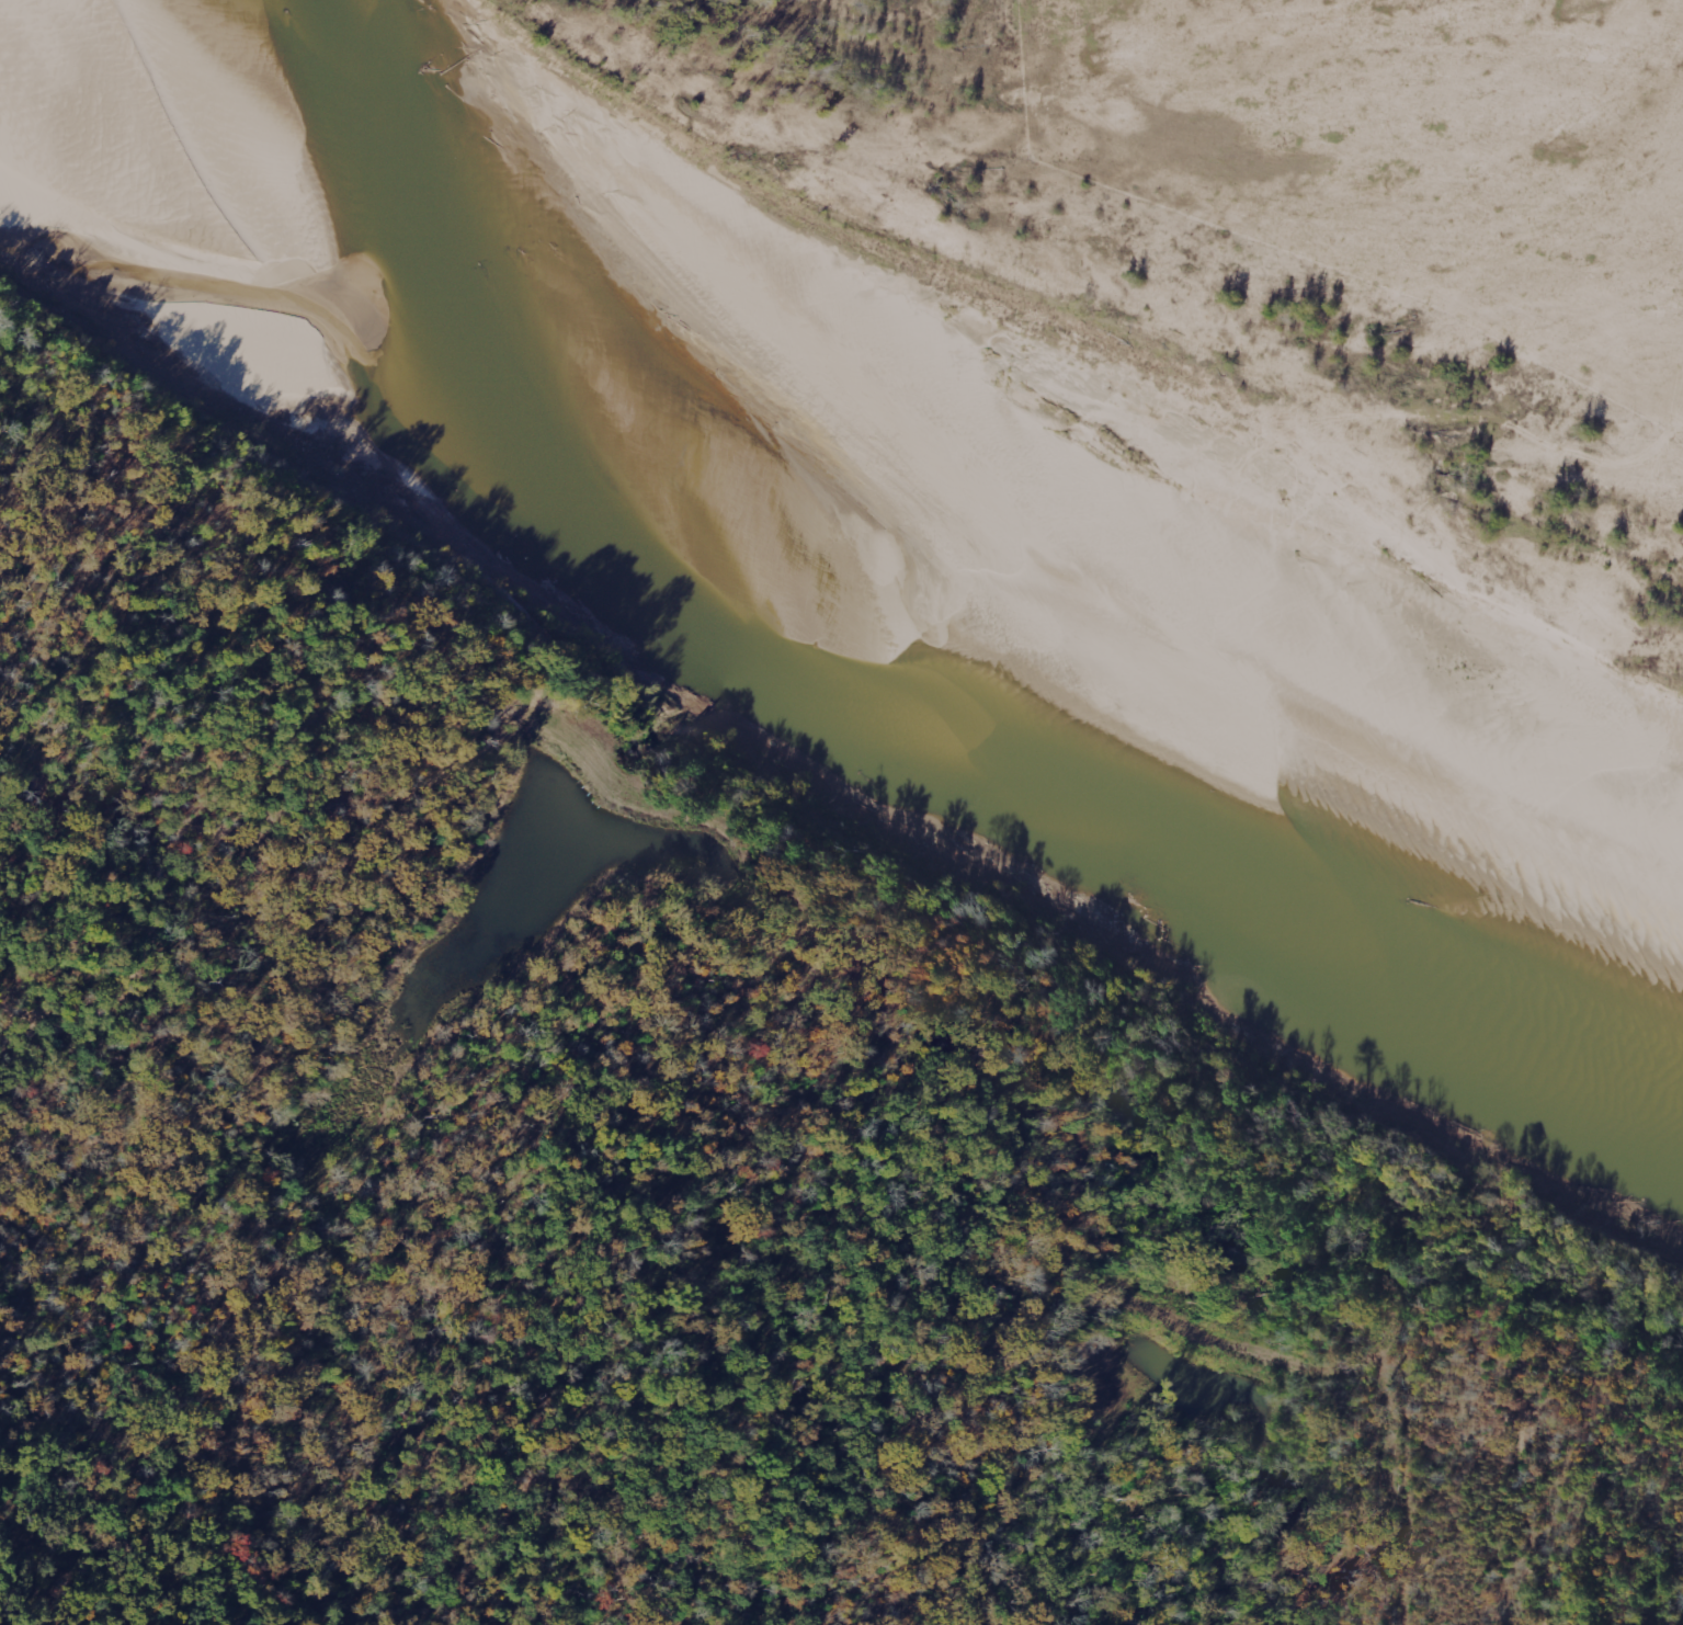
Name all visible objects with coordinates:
river: (797, 627)

